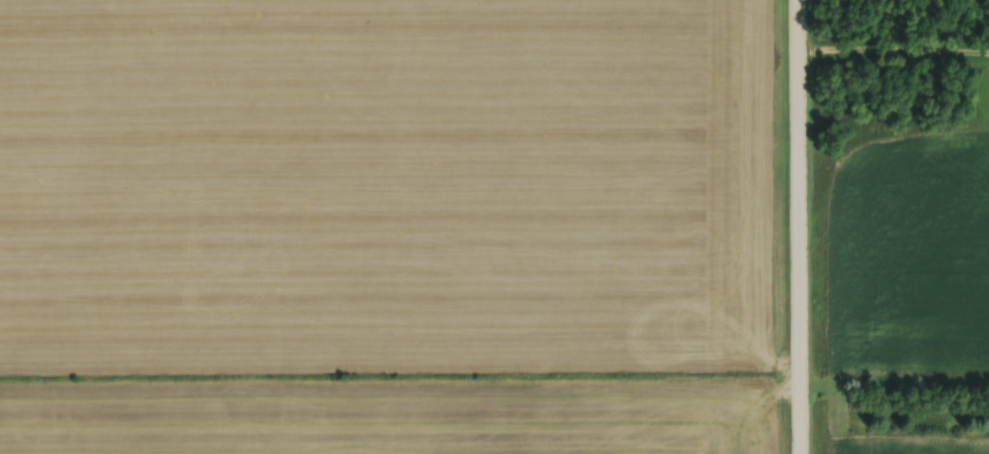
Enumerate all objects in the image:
road: (894, 48)
road: (801, 227)

